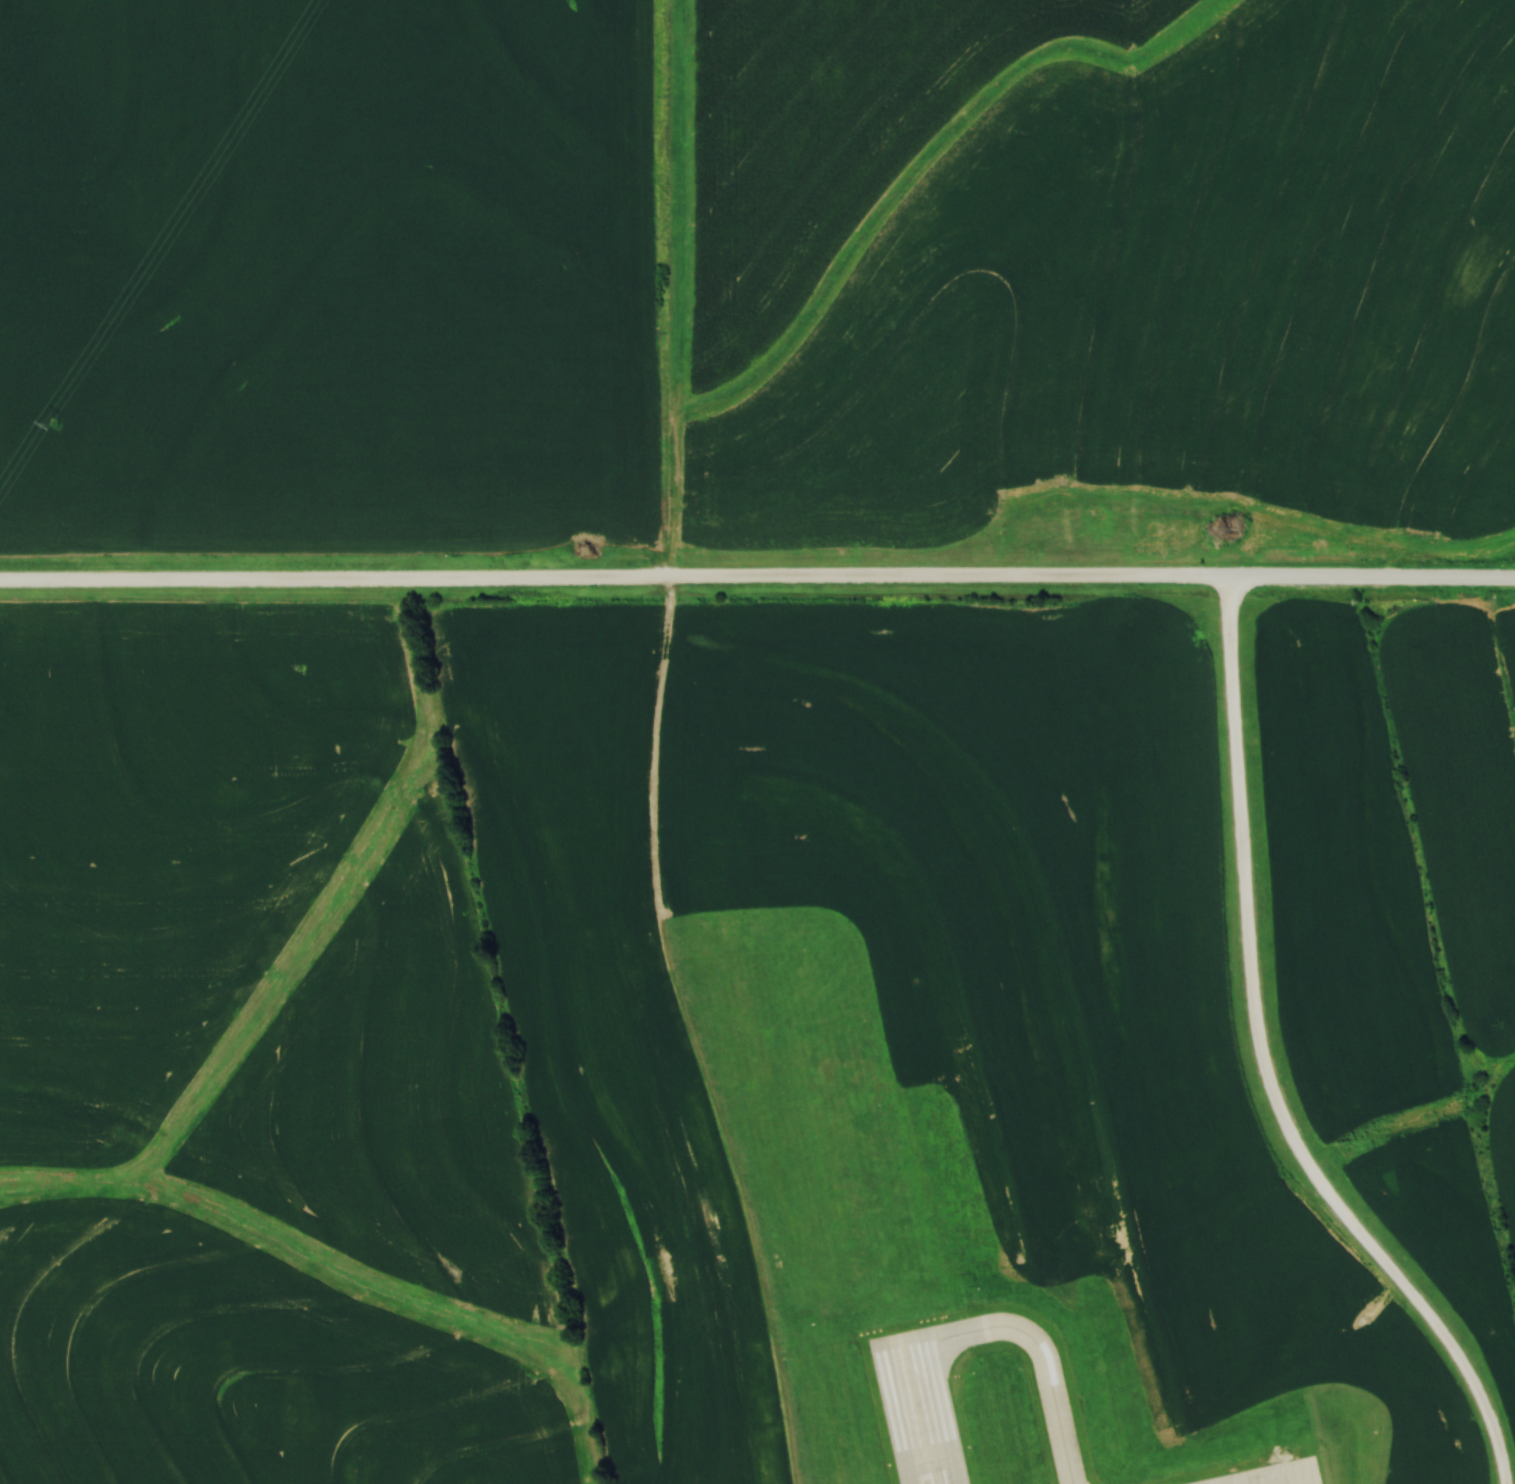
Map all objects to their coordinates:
power tower: (52, 428)
road: (610, 580)
road: (1368, 580)
road: (1265, 1065)
airport taxiway: (1040, 1345)
airport runway: (919, 1410)
airport apron: (1274, 1474)
airport taxiway: (1275, 1477)

